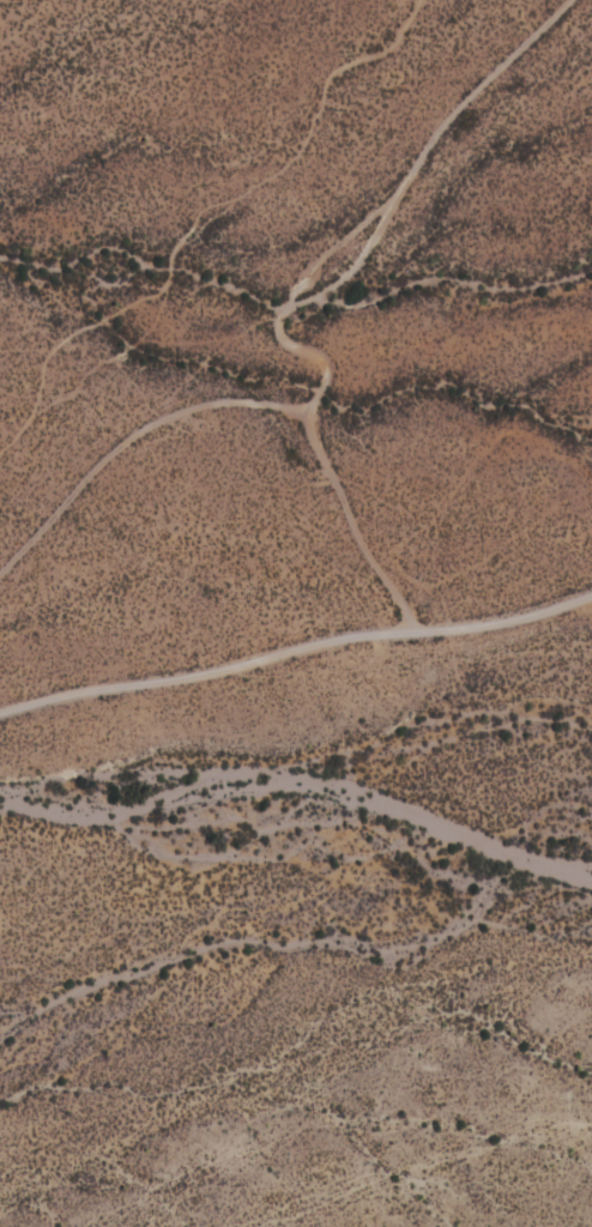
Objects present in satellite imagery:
road: (203, 219)
road: (290, 344)
road: (98, 365)
road: (354, 524)
road: (296, 653)

